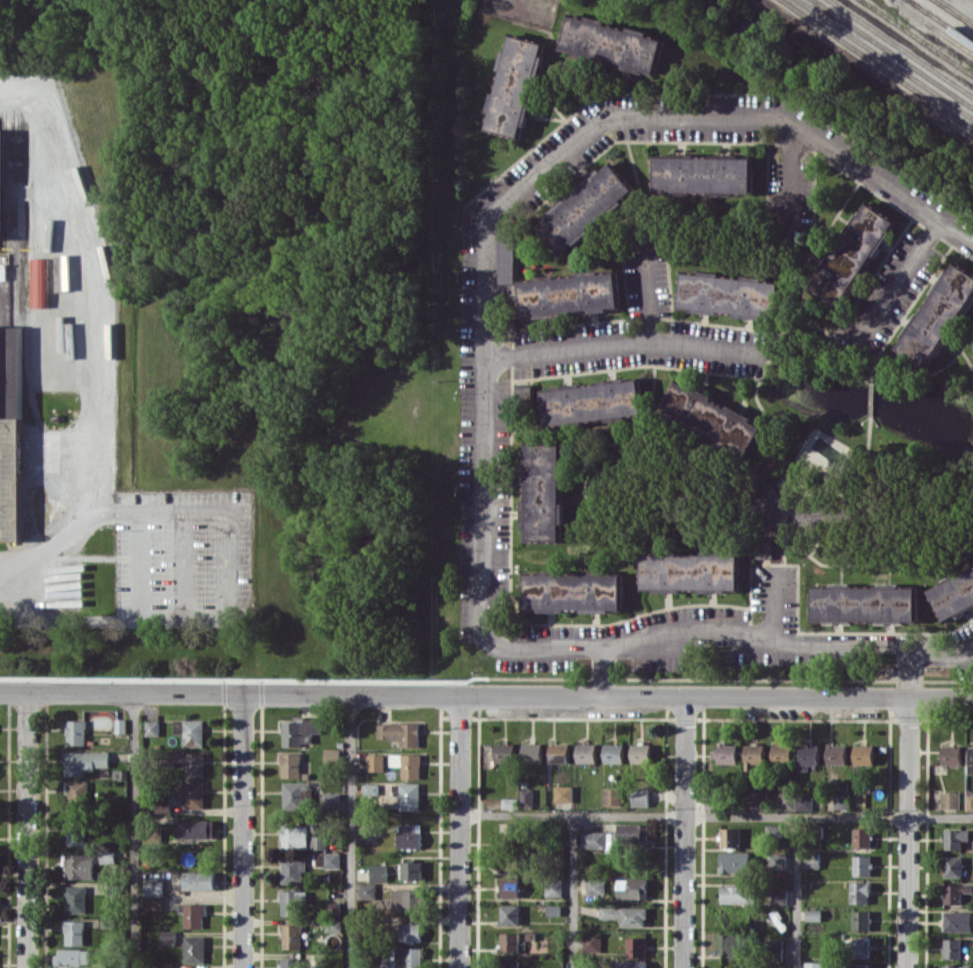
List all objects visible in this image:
railway: (957, 10)
railway: (942, 20)
railway: (933, 26)
railway: (917, 37)
building: (611, 44)
railway: (902, 47)
railway: (893, 53)
railway: (885, 58)
railway: (877, 64)
building: (515, 86)
road: (709, 115)
building: (702, 174)
road: (790, 180)
building: (2, 185)
building: (585, 208)
road: (955, 237)
building: (506, 255)
building: (851, 256)
building: (39, 282)
road: (646, 288)
road: (894, 288)
building: (568, 294)
building: (728, 294)
building: (937, 317)
road: (91, 336)
road: (625, 344)
building: (11, 392)
building: (593, 402)
building: (710, 418)
building: (543, 491)
building: (771, 504)
road: (200, 513)
building: (769, 551)
building: (690, 572)
building: (574, 591)
building: (953, 593)
building: (864, 603)
road: (774, 605)
road: (107, 618)
road: (520, 650)
road: (605, 672)
road: (909, 674)
road: (486, 697)
building: (121, 725)
building: (152, 727)
building: (191, 731)
building: (300, 731)
building: (76, 732)
building: (400, 732)
building: (504, 752)
building: (532, 752)
building: (559, 752)
building: (586, 752)
building: (641, 752)
building: (613, 753)
building: (725, 753)
building: (782, 753)
building: (836, 754)
building: (863, 754)
building: (971, 754)
building: (332, 755)
building: (808, 755)
building: (951, 755)
building: (754, 756)
building: (84, 762)
building: (192, 762)
building: (375, 762)
building: (407, 764)
building: (290, 765)
building: (370, 788)
building: (78, 791)
building: (563, 793)
building: (193, 794)
building: (295, 795)
building: (409, 796)
building: (612, 796)
building: (640, 796)
building: (757, 798)
building: (949, 799)
building: (520, 800)
building: (787, 800)
building: (841, 800)
building: (333, 802)
building: (969, 802)
road: (716, 816)
building: (195, 828)
building: (510, 829)
road: (28, 831)
road: (134, 831)
building: (77, 832)
road: (243, 832)
road: (350, 832)
road: (459, 832)
road: (684, 833)
road: (907, 833)
building: (409, 835)
building: (295, 836)
building: (628, 836)
building: (730, 837)
building: (862, 837)
building: (956, 837)
building: (593, 839)
building: (319, 842)
building: (107, 855)
building: (329, 860)
building: (735, 861)
building: (778, 861)
building: (511, 862)
building: (862, 865)
building: (79, 866)
building: (952, 866)
building: (293, 869)
building: (412, 870)
building: (378, 872)
building: (199, 880)
building: (153, 886)
building: (510, 887)
building: (634, 888)
building: (366, 890)
road: (573, 892)
road: (796, 892)
building: (859, 892)
building: (955, 892)
building: (737, 894)
building: (779, 897)
building: (76, 899)
building: (407, 899)
building: (292, 902)
building: (154, 904)
building: (510, 914)
building: (192, 915)
building: (626, 915)
building: (812, 915)
building: (861, 920)
building: (958, 921)
building: (410, 931)
building: (74, 932)
building: (292, 936)
building: (509, 942)
building: (592, 942)
building: (730, 944)
building: (636, 946)
building: (860, 947)
building: (194, 948)
building: (952, 948)
building: (73, 956)
building: (404, 958)
building: (291, 962)
building: (510, 963)
building: (633, 964)
building: (811, 965)
building: (859, 965)
building: (158, 966)
building: (956, 966)

